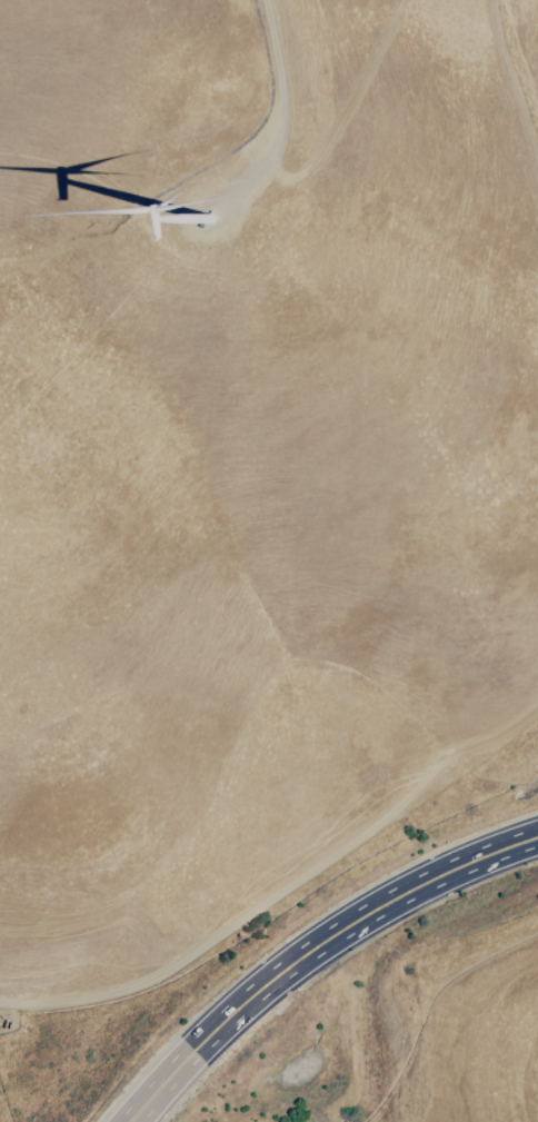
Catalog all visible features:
road: (511, 89)
road: (267, 101)
wind turbine: (205, 211)
road: (281, 892)
road: (399, 896)
road: (212, 1030)
road: (142, 1100)
road: (123, 1118)
road: (126, 1118)

